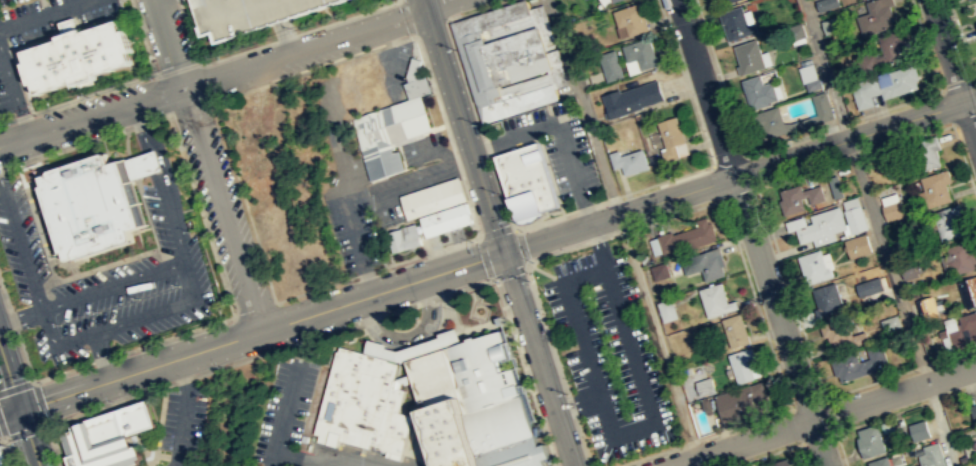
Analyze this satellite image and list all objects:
building: (613, 0)
building: (726, 1)
building: (825, 4)
road: (120, 6)
road: (445, 9)
building: (247, 14)
parking garage: (247, 14)
road: (43, 15)
building: (875, 16)
parking lot: (48, 17)
road: (406, 17)
building: (631, 18)
parking lot: (282, 20)
building: (735, 23)
building: (832, 24)
road: (126, 26)
road: (430, 27)
street lamp: (674, 28)
road: (962, 39)
road: (34, 40)
road: (266, 43)
road: (926, 44)
street lamp: (959, 45)
building: (889, 48)
building: (640, 53)
building: (510, 56)
building: (748, 56)
building: (76, 57)
building: (609, 65)
road: (312, 68)
road: (952, 69)
building: (807, 72)
road: (223, 75)
road: (720, 76)
building: (414, 78)
road: (975, 78)
road: (126, 80)
road: (975, 80)
road: (685, 82)
parking lot: (8, 84)
road: (10, 84)
building: (812, 84)
road: (958, 84)
building: (884, 85)
road: (433, 90)
street lamp: (429, 91)
building: (757, 91)
road: (470, 92)
building: (631, 98)
building: (822, 106)
road: (946, 107)
road: (21, 115)
road: (22, 119)
road: (156, 119)
road: (963, 119)
road: (6, 120)
building: (770, 122)
road: (843, 122)
road: (138, 124)
road: (462, 125)
road: (559, 128)
building: (387, 131)
building: (671, 137)
road: (908, 138)
road: (392, 142)
road: (397, 146)
road: (67, 148)
parking lot: (424, 148)
building: (928, 152)
street lamp: (711, 154)
road: (728, 159)
road: (456, 161)
building: (629, 161)
road: (964, 161)
road: (205, 165)
road: (2, 169)
building: (256, 170)
road: (750, 170)
road: (800, 173)
road: (739, 174)
building: (527, 181)
road: (717, 182)
building: (835, 185)
road: (387, 187)
parking lot: (405, 187)
building: (936, 188)
road: (739, 193)
building: (431, 196)
road: (611, 197)
road: (244, 198)
building: (798, 198)
building: (89, 207)
building: (892, 210)
building: (853, 215)
building: (444, 218)
building: (795, 221)
building: (948, 222)
building: (821, 225)
road: (495, 229)
road: (624, 229)
road: (134, 231)
road: (623, 232)
road: (879, 232)
road: (750, 233)
road: (138, 234)
building: (402, 236)
building: (687, 238)
road: (20, 243)
road: (521, 245)
building: (857, 246)
building: (903, 248)
traffic signals: (502, 252)
road: (484, 256)
building: (961, 257)
road: (403, 259)
road: (109, 263)
building: (703, 266)
building: (813, 267)
building: (910, 269)
building: (660, 271)
road: (510, 272)
road: (53, 274)
road: (112, 285)
building: (869, 285)
road: (193, 289)
building: (968, 290)
road: (790, 292)
building: (716, 300)
building: (825, 300)
street lamp: (759, 301)
road: (756, 304)
fountain: (479, 309)
building: (927, 309)
building: (667, 310)
road: (20, 315)
road: (478, 321)
building: (890, 322)
building: (969, 323)
road: (546, 328)
building: (736, 330)
road: (406, 332)
building: (840, 333)
road: (251, 334)
parking lot: (401, 337)
building: (956, 337)
road: (269, 352)
building: (876, 352)
parking lot: (609, 354)
road: (101, 355)
road: (537, 359)
building: (741, 364)
street lamp: (220, 366)
building: (853, 366)
road: (523, 370)
road: (900, 372)
road: (9, 379)
building: (706, 386)
road: (16, 387)
street lamp: (565, 393)
parking lot: (287, 400)
street lamp: (111, 401)
road: (807, 402)
road: (40, 403)
building: (741, 403)
street lamp: (791, 403)
building: (432, 404)
road: (578, 404)
road: (571, 405)
road: (905, 408)
traffic signals: (19, 409)
road: (184, 411)
building: (973, 411)
road: (829, 413)
road: (822, 414)
road: (158, 420)
parking lot: (182, 422)
road: (796, 426)
building: (887, 426)
road: (634, 429)
building: (917, 430)
road: (25, 433)
road: (277, 435)
road: (1, 436)
road: (818, 436)
road: (28, 437)
building: (107, 437)
road: (702, 437)
building: (870, 440)
road: (1, 441)
road: (583, 441)
road: (54, 446)
road: (840, 448)
street lamp: (53, 449)
road: (152, 450)
road: (405, 451)
road: (766, 454)
road: (805, 454)
building: (931, 455)
building: (3, 457)
building: (879, 462)
building: (779, 463)

